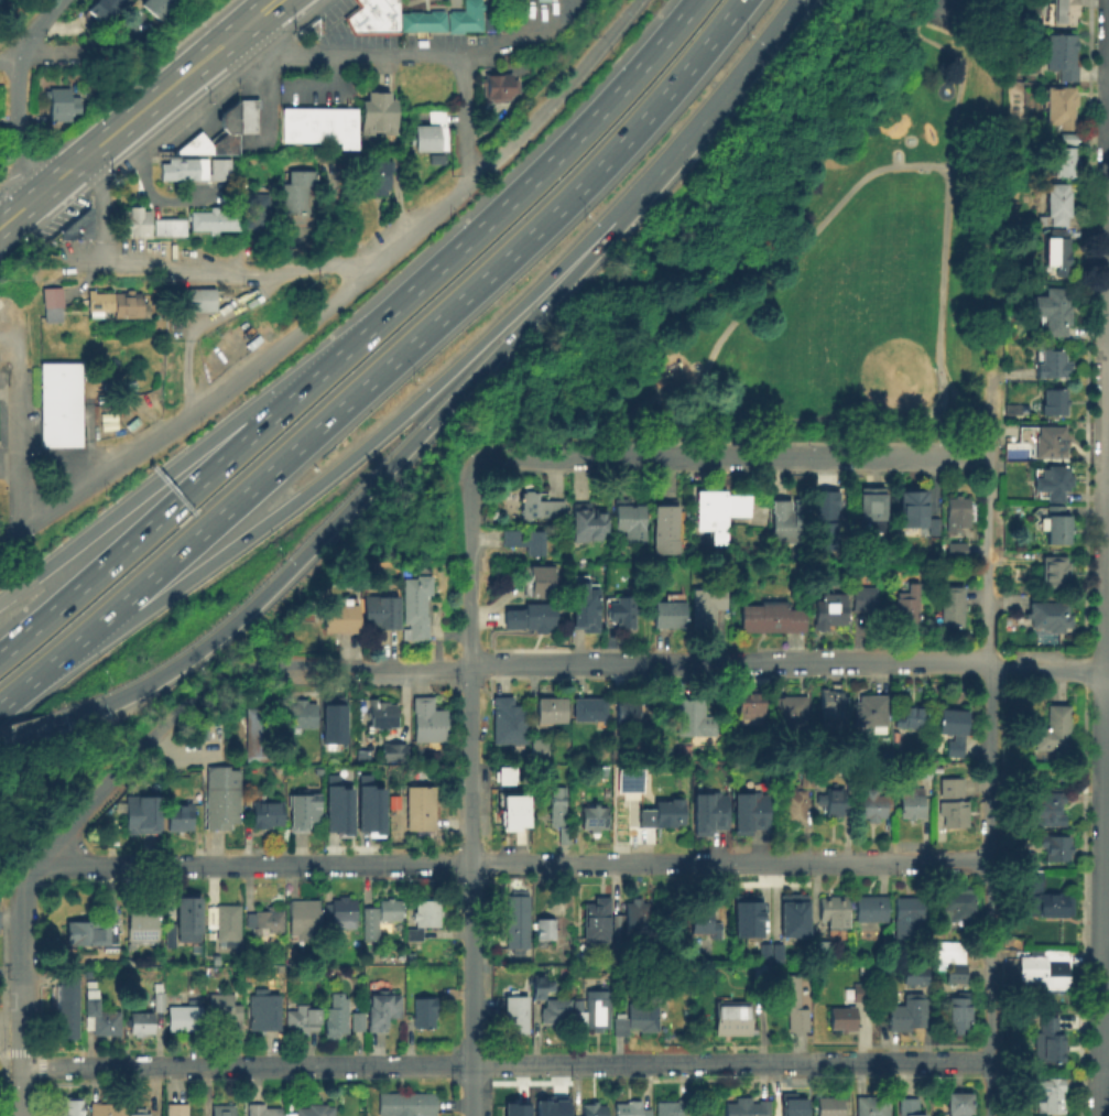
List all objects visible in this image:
building: (541, 0)
building: (390, 7)
building: (166, 8)
parking lot: (335, 8)
building: (109, 11)
road: (262, 11)
park: (945, 11)
building: (1065, 12)
building: (376, 15)
building: (465, 17)
building: (420, 20)
road: (966, 20)
building: (356, 21)
building: (489, 22)
building: (312, 24)
road: (34, 28)
parking lot: (389, 40)
road: (518, 40)
road: (122, 45)
road: (47, 54)
building: (1062, 54)
road: (346, 55)
road: (244, 58)
building: (504, 63)
road: (331, 69)
road: (319, 85)
building: (500, 88)
road: (165, 90)
road: (265, 93)
road: (719, 102)
building: (62, 106)
building: (1062, 106)
building: (246, 115)
building: (372, 115)
building: (389, 116)
road: (465, 118)
building: (323, 127)
road: (19, 129)
building: (215, 134)
building: (433, 134)
building: (1067, 139)
road: (559, 147)
building: (438, 162)
building: (1065, 162)
building: (195, 171)
road: (63, 175)
building: (304, 180)
building: (373, 180)
building: (294, 194)
road: (150, 197)
building: (1057, 204)
road: (101, 205)
road: (836, 207)
road: (21, 208)
building: (294, 208)
road: (407, 213)
building: (259, 214)
road: (326, 220)
building: (214, 223)
building: (135, 225)
building: (76, 227)
building: (170, 229)
road: (291, 249)
building: (1056, 252)
park: (860, 254)
road: (233, 270)
road: (339, 295)
building: (187, 297)
building: (52, 306)
building: (120, 306)
building: (1054, 311)
building: (160, 322)
road: (199, 331)
road: (410, 340)
park: (867, 351)
building: (1052, 364)
road: (943, 386)
building: (1056, 402)
building: (61, 408)
building: (1012, 408)
road: (20, 411)
road: (207, 438)
building: (1045, 438)
road: (361, 449)
road: (512, 457)
road: (803, 457)
road: (581, 458)
road: (10, 466)
road: (210, 469)
building: (1052, 481)
road: (1108, 481)
road: (367, 484)
building: (543, 507)
building: (872, 508)
building: (915, 509)
building: (960, 510)
building: (719, 512)
building: (829, 518)
building: (630, 520)
road: (989, 520)
building: (789, 521)
building: (587, 523)
building: (1058, 524)
building: (936, 527)
building: (666, 530)
building: (526, 541)
building: (957, 549)
road: (469, 563)
building: (1056, 572)
building: (539, 586)
building: (865, 597)
building: (953, 605)
building: (416, 606)
building: (581, 609)
building: (706, 609)
building: (907, 609)
building: (829, 610)
building: (621, 611)
building: (1051, 614)
building: (668, 615)
building: (381, 616)
building: (341, 617)
building: (529, 618)
building: (772, 618)
road: (791, 663)
road: (29, 680)
road: (227, 680)
road: (1105, 700)
building: (749, 704)
building: (829, 705)
building: (589, 707)
building: (552, 708)
building: (870, 711)
building: (627, 712)
building: (302, 713)
building: (382, 713)
building: (801, 714)
building: (910, 717)
building: (693, 718)
building: (430, 720)
building: (510, 722)
building: (330, 723)
road: (32, 728)
building: (1055, 729)
building: (953, 730)
building: (259, 734)
building: (540, 748)
building: (392, 751)
building: (360, 755)
road: (470, 765)
building: (628, 782)
building: (505, 783)
building: (952, 788)
building: (222, 798)
building: (910, 801)
building: (558, 804)
building: (794, 804)
building: (335, 805)
building: (367, 805)
building: (837, 805)
building: (421, 806)
building: (872, 806)
building: (1047, 809)
building: (301, 810)
building: (511, 812)
building: (268, 813)
building: (665, 813)
building: (954, 813)
building: (181, 815)
building: (708, 815)
building: (750, 816)
building: (141, 817)
building: (595, 817)
building: (564, 834)
building: (1057, 847)
building: (1024, 858)
road: (258, 863)
road: (729, 864)
road: (34, 868)
road: (989, 890)
building: (1042, 898)
building: (960, 903)
parking lot: (0, 906)
building: (390, 908)
building: (910, 908)
building: (870, 909)
road: (11, 912)
building: (830, 912)
building: (338, 914)
building: (744, 914)
building: (791, 914)
building: (423, 917)
building: (304, 919)
building: (225, 920)
building: (265, 920)
building: (142, 921)
building: (518, 921)
building: (598, 921)
building: (705, 921)
building: (183, 923)
building: (631, 925)
building: (550, 928)
building: (371, 930)
building: (90, 935)
building: (823, 950)
building: (949, 951)
building: (762, 952)
building: (774, 952)
building: (1047, 968)
building: (955, 972)
building: (762, 973)
building: (913, 978)
road: (471, 988)
building: (537, 990)
building: (157, 996)
building: (791, 1000)
road: (22, 1003)
building: (850, 1006)
building: (67, 1008)
building: (263, 1008)
building: (382, 1009)
building: (594, 1009)
building: (424, 1010)
building: (224, 1011)
building: (907, 1011)
building: (517, 1014)
building: (554, 1014)
building: (639, 1016)
building: (957, 1016)
building: (183, 1017)
building: (336, 1017)
building: (101, 1018)
building: (301, 1019)
building: (357, 1019)
building: (731, 1019)
building: (139, 1022)
building: (1050, 1040)
road: (1106, 1052)
road: (554, 1065)
road: (70, 1068)
building: (1053, 1096)
building: (406, 1103)
building: (793, 1105)
building: (959, 1105)
building: (550, 1106)
building: (829, 1106)
building: (873, 1106)
building: (672, 1107)
building: (106, 1108)
building: (177, 1108)
building: (513, 1108)
building: (594, 1108)
building: (629, 1108)
building: (909, 1108)
building: (69, 1109)
building: (222, 1109)
building: (263, 1109)
building: (747, 1109)
building: (315, 1112)
building: (141, 1114)

